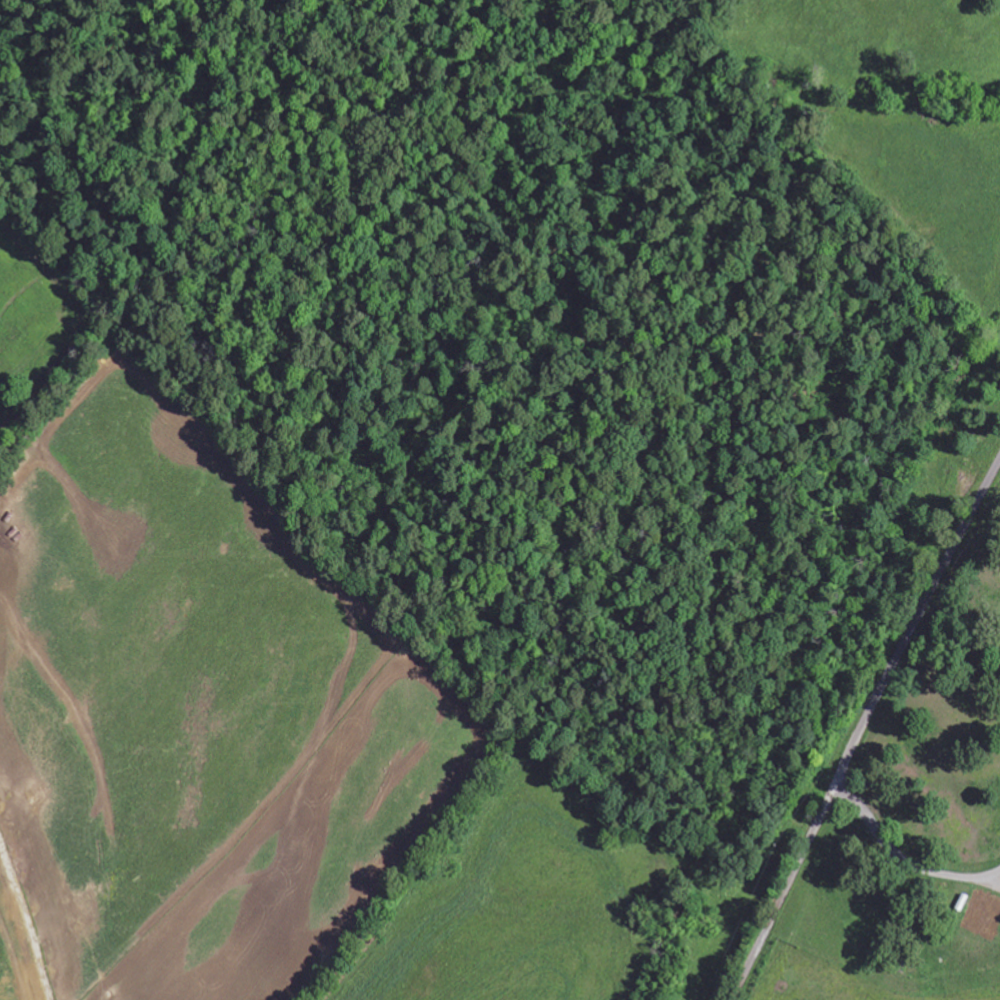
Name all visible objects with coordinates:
road: (866, 729)

